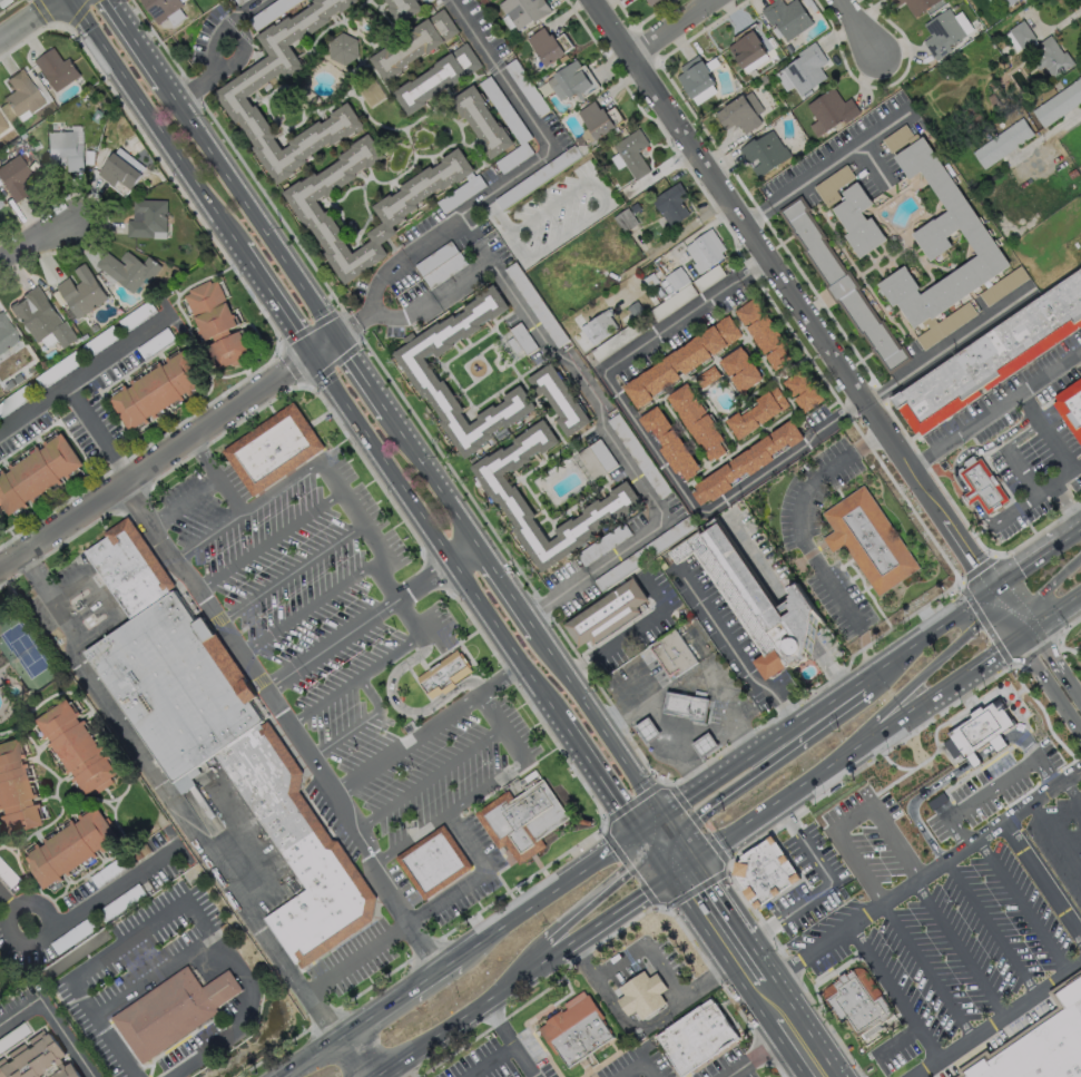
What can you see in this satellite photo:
building: (0, 0)
building: (1023, 0)
building: (239, 1)
building: (650, 1)
building: (1005, 2)
road: (249, 4)
building: (915, 4)
building: (158, 8)
building: (401, 9)
building: (522, 10)
building: (785, 17)
road: (29, 20)
road: (662, 22)
road: (848, 22)
building: (944, 31)
building: (1019, 36)
road: (138, 41)
building: (412, 43)
building: (547, 45)
building: (744, 47)
building: (342, 49)
building: (1051, 57)
road: (218, 60)
building: (804, 68)
building: (55, 69)
building: (694, 76)
building: (435, 78)
building: (572, 81)
building: (20, 94)
building: (230, 94)
building: (1058, 102)
building: (828, 110)
building: (738, 112)
building: (598, 118)
building: (480, 121)
building: (1, 124)
road: (148, 124)
road: (1044, 134)
building: (1001, 143)
road: (548, 148)
building: (63, 149)
building: (631, 153)
building: (763, 153)
road: (873, 161)
road: (827, 165)
building: (117, 170)
building: (12, 177)
road: (600, 193)
building: (0, 203)
building: (669, 203)
building: (393, 207)
road: (253, 208)
road: (550, 208)
building: (146, 217)
building: (856, 221)
road: (503, 229)
road: (568, 233)
building: (937, 237)
road: (472, 238)
road: (35, 243)
building: (704, 249)
building: (127, 270)
building: (674, 281)
building: (841, 285)
building: (79, 292)
road: (373, 298)
road: (274, 301)
road: (404, 315)
road: (813, 316)
building: (40, 317)
building: (215, 322)
building: (596, 324)
building: (6, 333)
building: (763, 333)
traffic signals: (338, 335)
road: (949, 345)
traffic signals: (311, 353)
building: (992, 355)
building: (680, 360)
road: (87, 368)
building: (415, 369)
building: (739, 369)
road: (364, 373)
building: (707, 375)
building: (800, 389)
building: (155, 390)
road: (591, 394)
building: (559, 398)
road: (995, 408)
building: (1071, 410)
building: (756, 412)
building: (696, 420)
road: (97, 430)
road: (1045, 431)
road: (1021, 434)
building: (669, 441)
road: (649, 444)
road: (980, 448)
building: (272, 450)
road: (168, 451)
road: (202, 458)
building: (745, 461)
road: (1019, 471)
building: (36, 472)
road: (433, 474)
building: (981, 486)
road: (1035, 495)
road: (227, 496)
road: (969, 496)
building: (504, 497)
road: (181, 500)
road: (1064, 505)
road: (247, 508)
road: (355, 511)
road: (981, 513)
road: (1070, 530)
road: (799, 536)
road: (433, 538)
building: (868, 538)
road: (271, 540)
road: (462, 550)
road: (1025, 561)
building: (130, 567)
road: (292, 571)
road: (508, 585)
traffic signals: (991, 585)
road: (1036, 587)
road: (557, 595)
road: (102, 600)
road: (399, 600)
building: (755, 601)
road: (309, 607)
building: (607, 615)
road: (357, 624)
road: (632, 630)
traffic signals: (1024, 637)
road: (731, 650)
building: (672, 652)
building: (445, 675)
road: (879, 676)
road: (1043, 676)
road: (356, 679)
road: (1062, 679)
road: (917, 683)
building: (176, 686)
road: (826, 701)
building: (686, 704)
road: (403, 708)
road: (289, 719)
building: (975, 721)
road: (362, 722)
road: (600, 723)
road: (656, 724)
road: (504, 725)
road: (429, 727)
road: (887, 727)
road: (714, 728)
building: (647, 730)
road: (991, 731)
road: (1016, 737)
road: (976, 741)
building: (705, 744)
building: (76, 747)
road: (965, 748)
road: (772, 765)
road: (598, 777)
road: (430, 779)
road: (488, 786)
road: (993, 787)
road: (1073, 789)
building: (16, 791)
road: (902, 795)
road: (174, 801)
traffic signals: (662, 816)
road: (210, 821)
building: (523, 822)
road: (649, 824)
road: (670, 826)
road: (238, 833)
traffic signals: (637, 833)
road: (656, 834)
road: (1055, 835)
road: (413, 839)
road: (642, 842)
building: (69, 848)
building: (298, 848)
road: (687, 848)
road: (900, 853)
road: (672, 855)
traffic signals: (695, 859)
building: (433, 863)
road: (658, 863)
road: (680, 867)
road: (925, 870)
building: (766, 873)
traffic signals: (667, 874)
road: (1041, 880)
road: (826, 883)
road: (546, 894)
road: (720, 897)
road: (176, 904)
road: (577, 904)
road: (1018, 904)
road: (619, 908)
road: (423, 912)
road: (77, 914)
road: (986, 926)
road: (716, 949)
road: (758, 954)
road: (582, 958)
road: (922, 969)
road: (153, 976)
road: (494, 978)
road: (891, 989)
road: (605, 993)
building: (642, 996)
road: (397, 998)
building: (859, 1005)
road: (475, 1008)
building: (170, 1012)
road: (992, 1016)
road: (51, 1018)
road: (806, 1026)
building: (576, 1032)
building: (697, 1037)
road: (508, 1039)
building: (1040, 1044)
road: (786, 1050)
building: (30, 1057)
road: (358, 1057)
road: (312, 1058)
road: (751, 1058)
road: (487, 1060)
road: (637, 1064)
building: (63, 1071)
road: (376, 1076)
road: (379, 1076)

